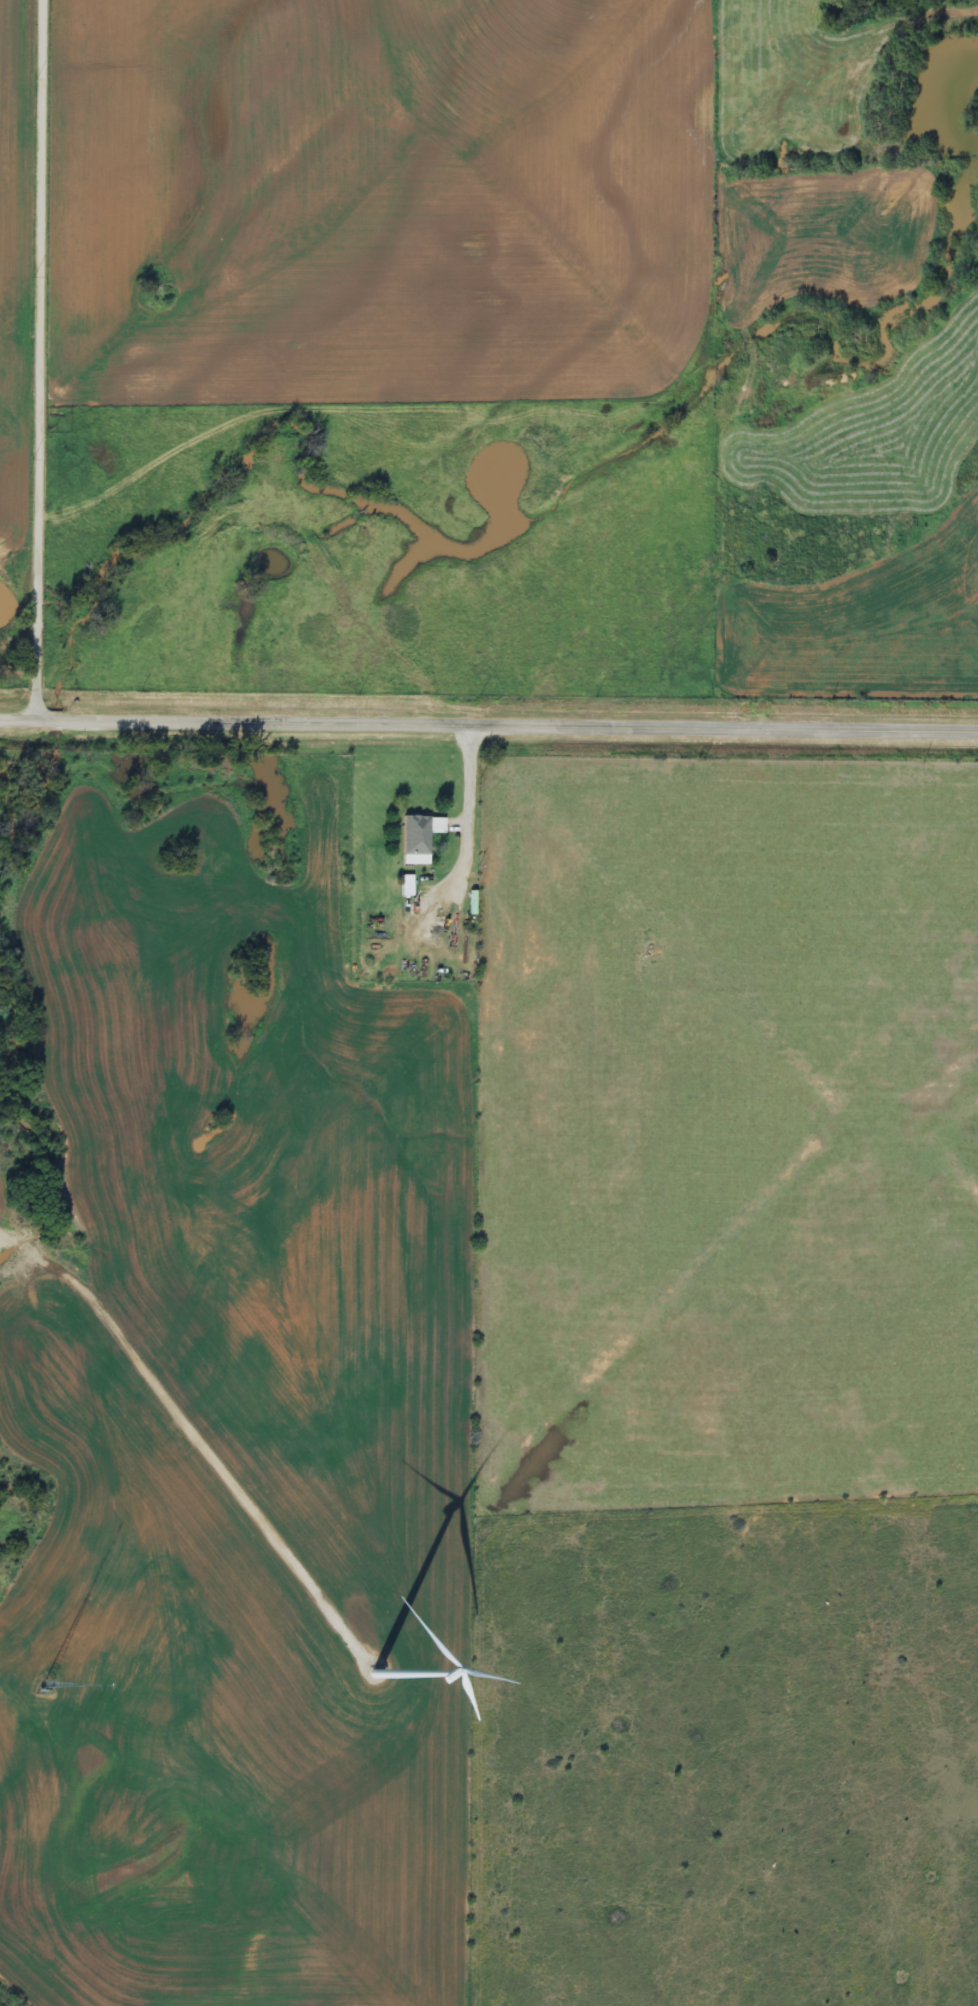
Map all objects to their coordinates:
road: (78, 358)
road: (488, 723)
building: (416, 837)
building: (380, 961)
wind turbine: (378, 1673)

